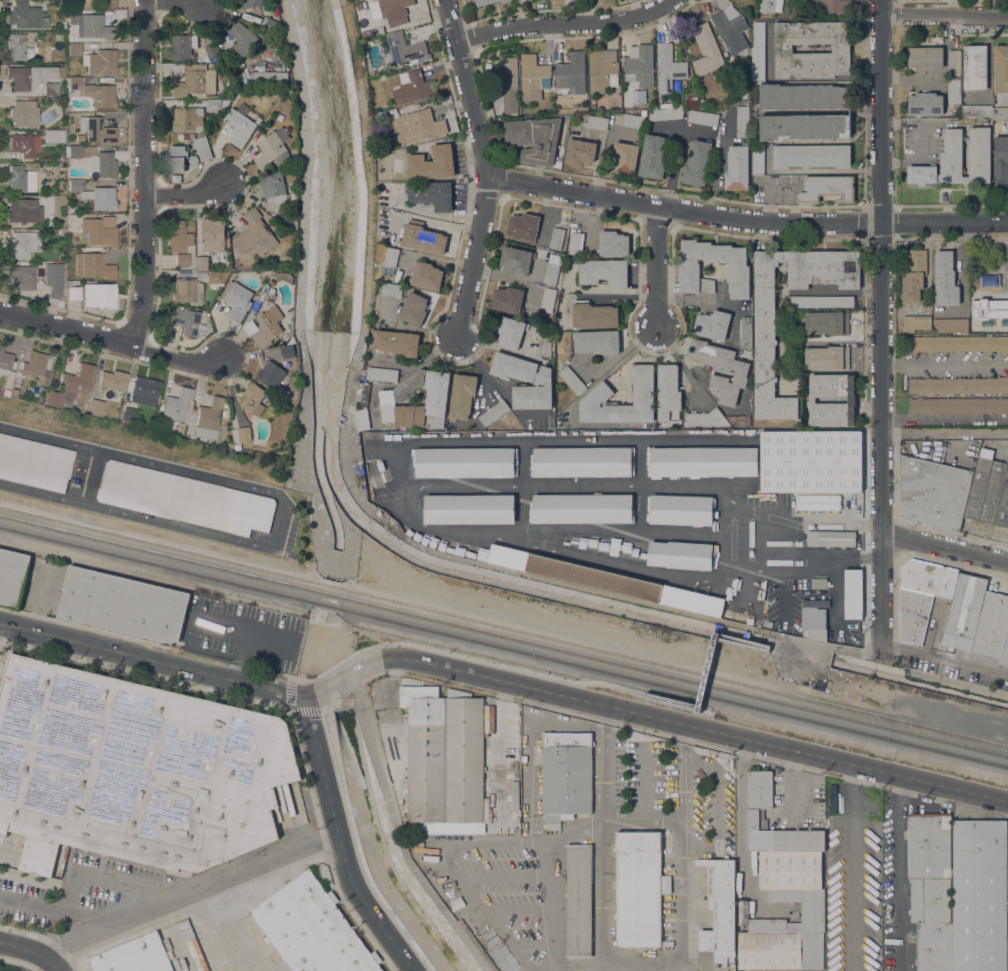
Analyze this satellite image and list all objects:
building: (487, 1)
building: (105, 3)
building: (251, 3)
road: (176, 5)
building: (770, 5)
building: (833, 7)
building: (394, 11)
road: (944, 13)
building: (26, 16)
building: (73, 18)
building: (62, 24)
road: (567, 24)
building: (272, 25)
building: (96, 27)
building: (729, 28)
building: (372, 32)
building: (58, 37)
building: (242, 39)
building: (184, 46)
building: (18, 48)
building: (404, 48)
building: (840, 48)
building: (74, 49)
building: (211, 49)
building: (706, 50)
building: (758, 51)
building: (925, 58)
building: (101, 62)
building: (954, 63)
building: (640, 65)
road: (988, 66)
building: (975, 67)
building: (668, 68)
building: (1001, 69)
building: (602, 70)
building: (370, 72)
building: (571, 73)
building: (532, 75)
building: (31, 76)
building: (508, 76)
building: (270, 78)
building: (195, 81)
building: (413, 87)
building: (51, 89)
building: (954, 91)
building: (92, 92)
building: (803, 96)
building: (925, 104)
building: (212, 105)
building: (509, 108)
building: (976, 111)
building: (666, 112)
building: (23, 113)
building: (1000, 113)
building: (702, 117)
building: (188, 119)
building: (633, 121)
building: (596, 122)
building: (742, 122)
building: (61, 124)
building: (420, 125)
building: (239, 127)
road: (667, 127)
building: (804, 127)
building: (96, 130)
building: (53, 136)
building: (180, 136)
building: (188, 136)
building: (79, 137)
building: (534, 138)
building: (24, 145)
building: (202, 148)
building: (273, 148)
building: (80, 151)
building: (579, 152)
road: (675, 155)
building: (62, 156)
building: (625, 156)
building: (811, 156)
building: (653, 157)
building: (176, 159)
building: (192, 159)
building: (758, 159)
building: (957, 160)
building: (431, 163)
building: (697, 163)
building: (105, 165)
building: (1001, 165)
road: (490, 168)
building: (736, 168)
road: (147, 173)
building: (192, 173)
building: (175, 178)
building: (20, 179)
building: (75, 185)
building: (827, 188)
building: (276, 189)
building: (431, 194)
road: (189, 197)
building: (101, 198)
building: (71, 210)
building: (23, 211)
building: (288, 218)
road: (748, 223)
building: (523, 227)
building: (99, 230)
building: (62, 232)
building: (212, 234)
building: (255, 235)
building: (178, 236)
building: (422, 238)
building: (556, 238)
building: (22, 243)
building: (575, 243)
building: (612, 244)
building: (390, 258)
building: (181, 259)
building: (517, 260)
building: (201, 262)
building: (96, 266)
road: (658, 267)
building: (552, 269)
park: (990, 269)
building: (738, 271)
building: (604, 272)
building: (217, 276)
building: (426, 276)
building: (914, 276)
building: (22, 277)
building: (287, 278)
building: (945, 280)
building: (990, 281)
park: (988, 288)
building: (187, 289)
building: (391, 290)
building: (41, 291)
building: (54, 291)
building: (73, 293)
road: (300, 293)
building: (99, 295)
building: (236, 299)
building: (508, 300)
building: (548, 300)
building: (820, 301)
building: (989, 308)
building: (414, 309)
building: (764, 314)
building: (594, 315)
building: (187, 321)
road: (881, 321)
building: (826, 323)
building: (916, 323)
building: (712, 325)
building: (951, 325)
building: (265, 327)
building: (511, 332)
building: (745, 332)
road: (112, 340)
building: (597, 341)
building: (396, 342)
building: (958, 343)
building: (544, 346)
building: (287, 352)
building: (827, 358)
building: (4, 361)
road: (944, 362)
road: (689, 365)
building: (36, 366)
building: (513, 367)
building: (721, 370)
building: (382, 374)
building: (273, 378)
building: (113, 380)
building: (572, 380)
building: (958, 385)
building: (70, 387)
building: (5, 392)
building: (145, 392)
building: (535, 392)
building: (14, 393)
building: (668, 393)
building: (462, 396)
building: (597, 396)
building: (253, 399)
building: (392, 399)
building: (832, 399)
building: (176, 405)
building: (362, 405)
building: (958, 405)
building: (96, 406)
building: (129, 413)
building: (493, 413)
building: (209, 418)
building: (703, 418)
road: (944, 418)
building: (738, 421)
building: (241, 434)
building: (238, 447)
building: (704, 461)
building: (811, 461)
building: (465, 462)
building: (582, 462)
building: (35, 463)
road: (168, 467)
road: (92, 477)
building: (979, 484)
building: (933, 492)
building: (996, 496)
building: (185, 499)
building: (816, 502)
building: (844, 502)
building: (469, 509)
building: (581, 509)
building: (682, 509)
road: (138, 516)
building: (831, 538)
road: (944, 547)
building: (681, 555)
building: (12, 576)
building: (607, 580)
building: (820, 583)
building: (853, 594)
building: (921, 595)
building: (123, 604)
building: (964, 611)
building: (814, 623)
building: (849, 623)
railway: (504, 625)
building: (991, 628)
railway: (504, 635)
building: (846, 640)
road: (766, 644)
railway: (504, 645)
road: (769, 647)
road: (848, 649)
building: (1005, 654)
road: (944, 657)
road: (333, 665)
road: (705, 673)
road: (500, 681)
road: (656, 695)
building: (444, 760)
road: (601, 760)
building: (134, 769)
road: (684, 770)
building: (566, 776)
building: (515, 795)
road: (642, 821)
building: (503, 830)
road: (398, 831)
building: (517, 831)
building: (835, 840)
road: (341, 842)
building: (851, 855)
road: (896, 872)
road: (100, 875)
building: (639, 888)
building: (783, 888)
building: (931, 888)
road: (190, 889)
building: (979, 895)
building: (579, 899)
road: (45, 909)
building: (720, 910)
road: (237, 926)
building: (312, 929)
road: (207, 930)
road: (33, 950)
building: (136, 956)

